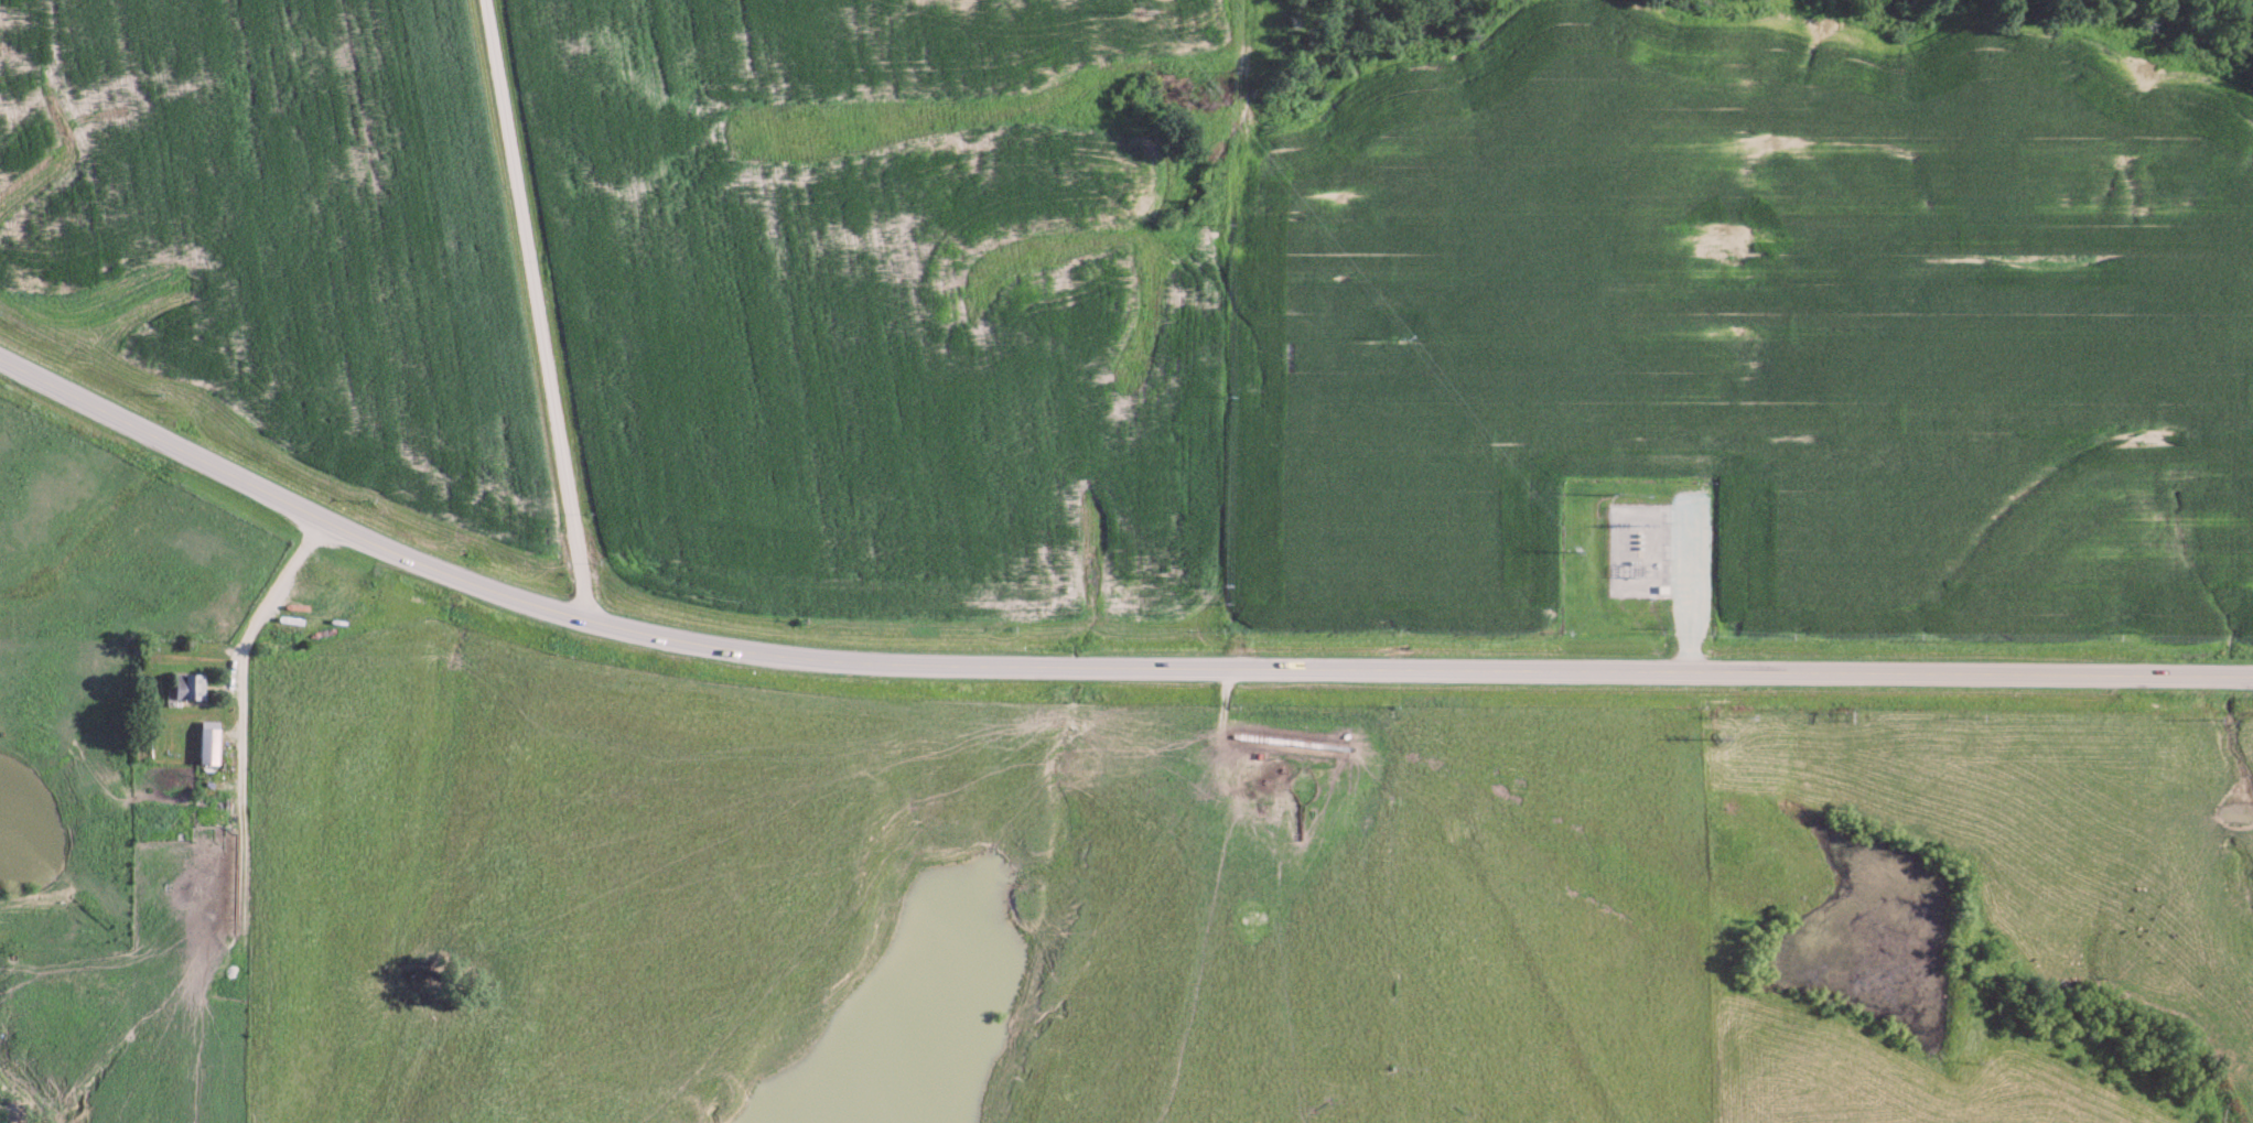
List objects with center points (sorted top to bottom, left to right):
road: (536, 309)
power substation: (1636, 547)
road: (1096, 665)
building: (187, 685)
building: (207, 742)

